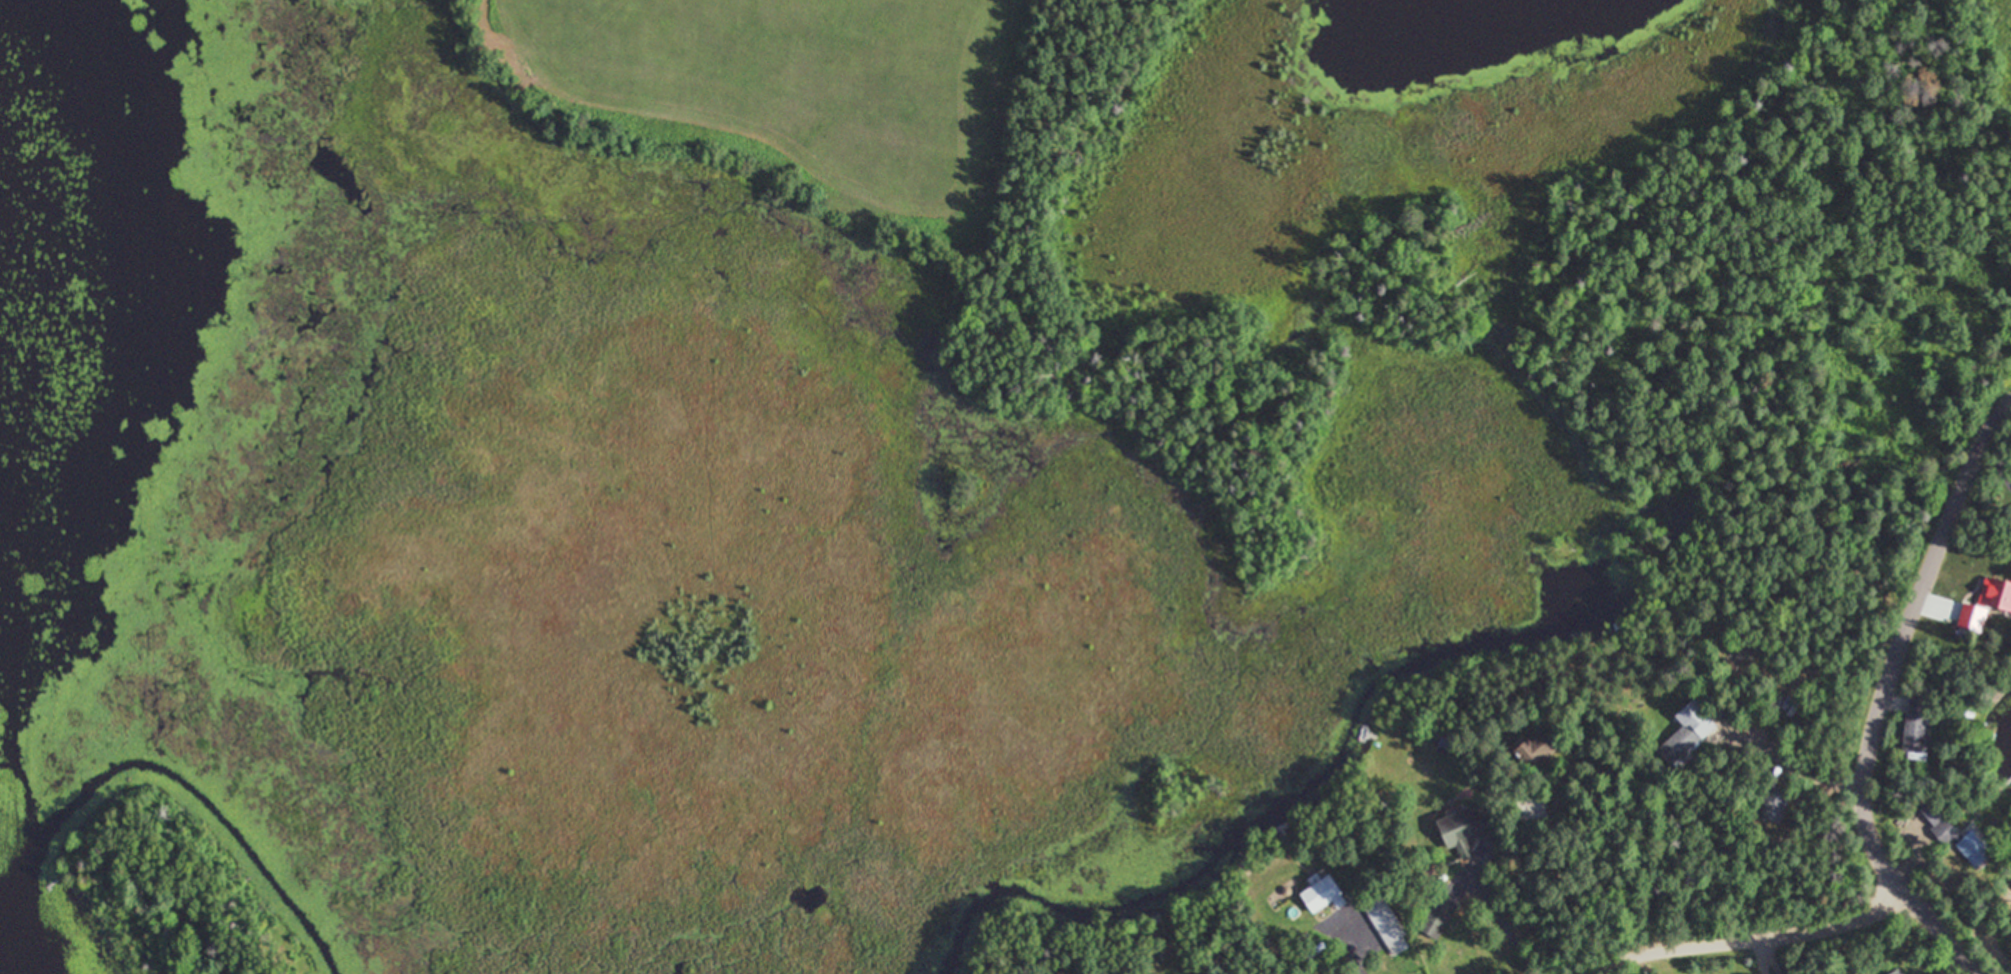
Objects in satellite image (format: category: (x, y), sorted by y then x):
building: (2002, 595)
building: (1968, 613)
road: (1882, 688)
building: (1916, 726)
building: (1688, 731)
building: (1537, 749)
building: (1772, 798)
building: (1532, 810)
building: (1464, 825)
building: (1949, 828)
building: (1323, 894)
building: (1438, 916)
building: (1384, 921)
road: (1744, 934)
building: (1897, 971)

